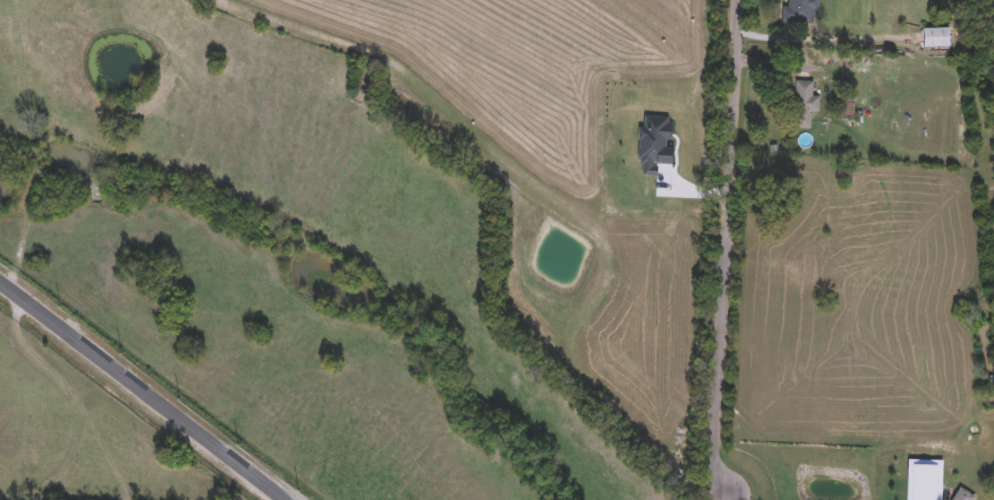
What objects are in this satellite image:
building: (800, 11)
building: (938, 38)
road: (821, 39)
building: (804, 104)
building: (847, 107)
building: (655, 141)
road: (725, 249)
road: (142, 390)
building: (964, 495)

